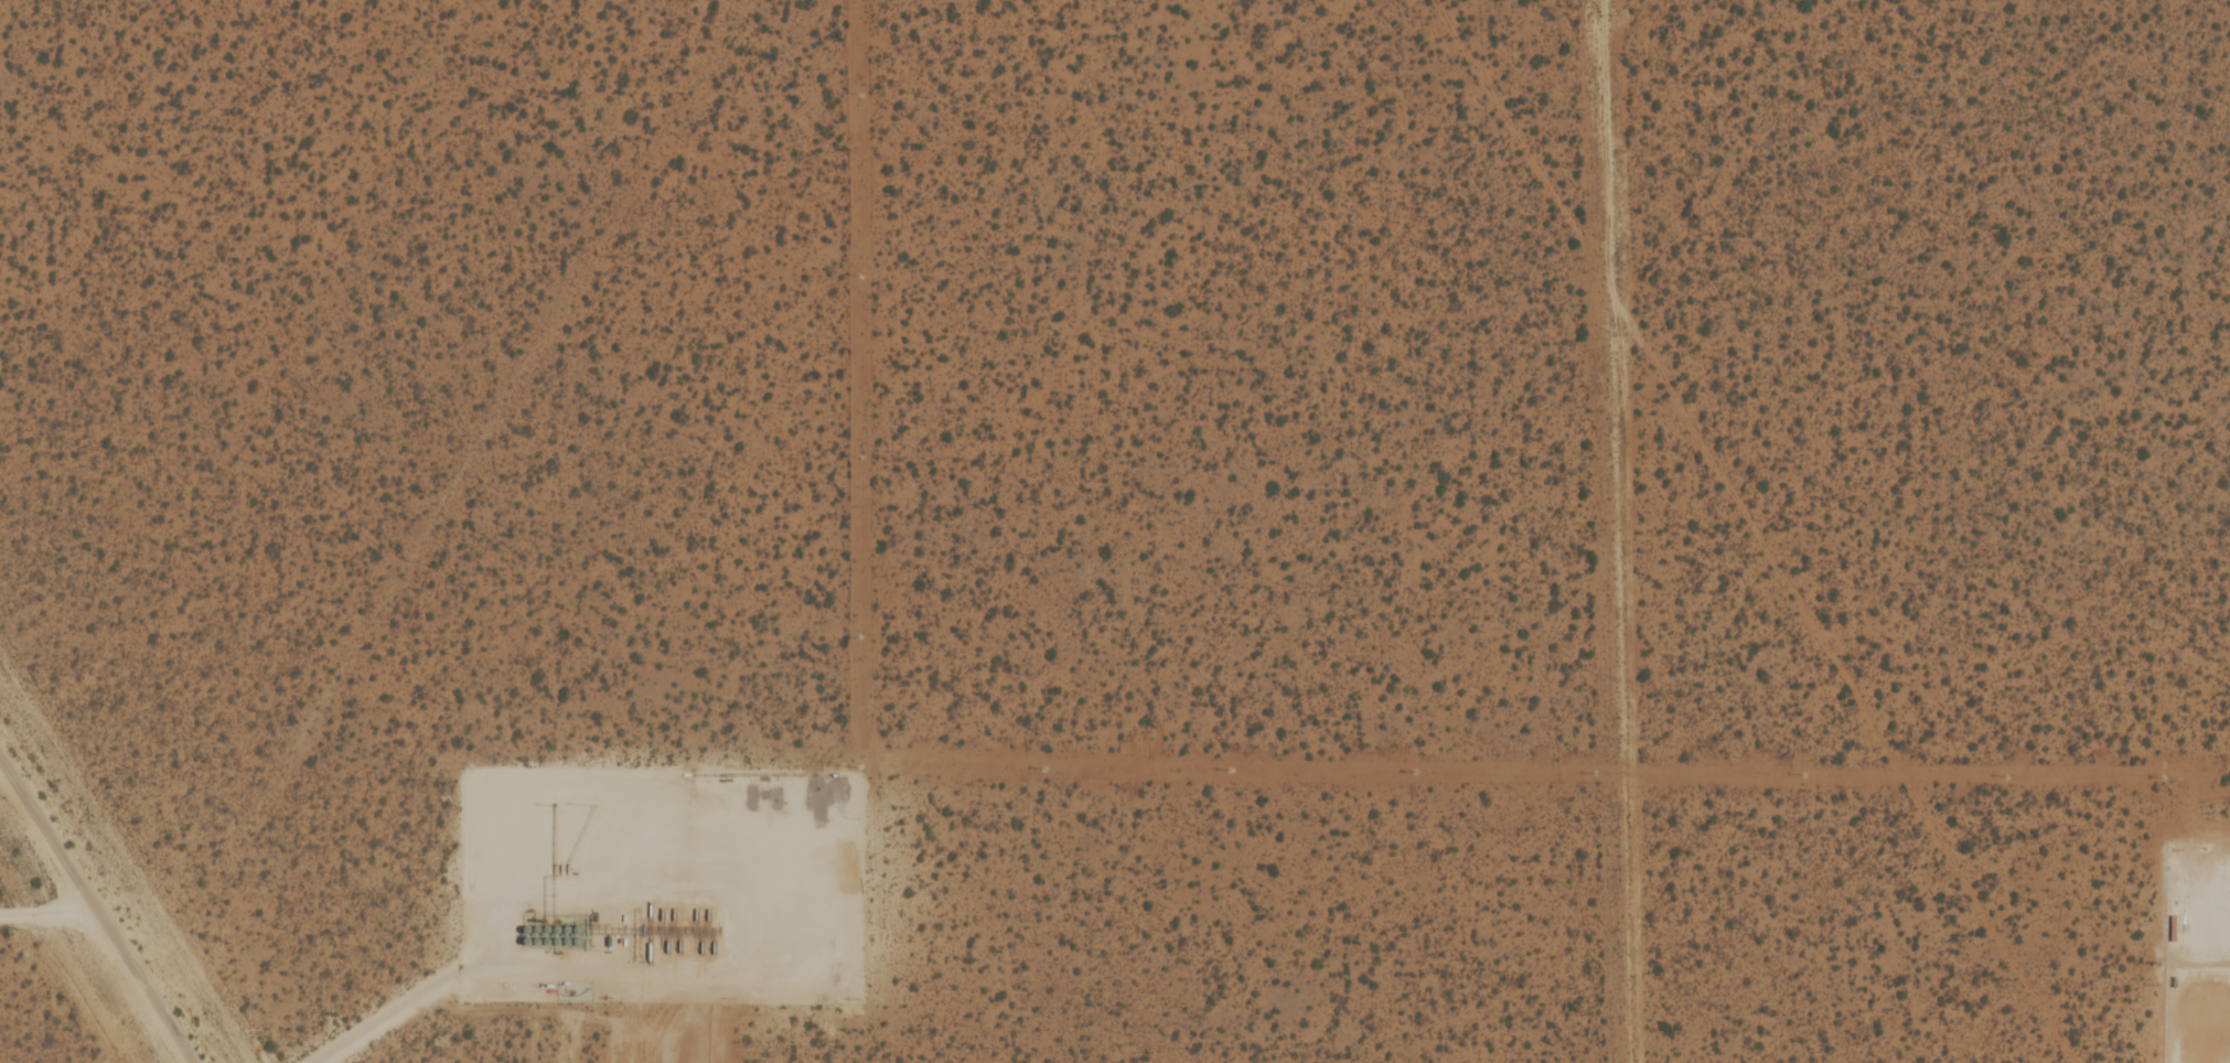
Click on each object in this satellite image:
road: (39, 905)
road: (90, 925)
road: (548, 927)
road: (2193, 956)

